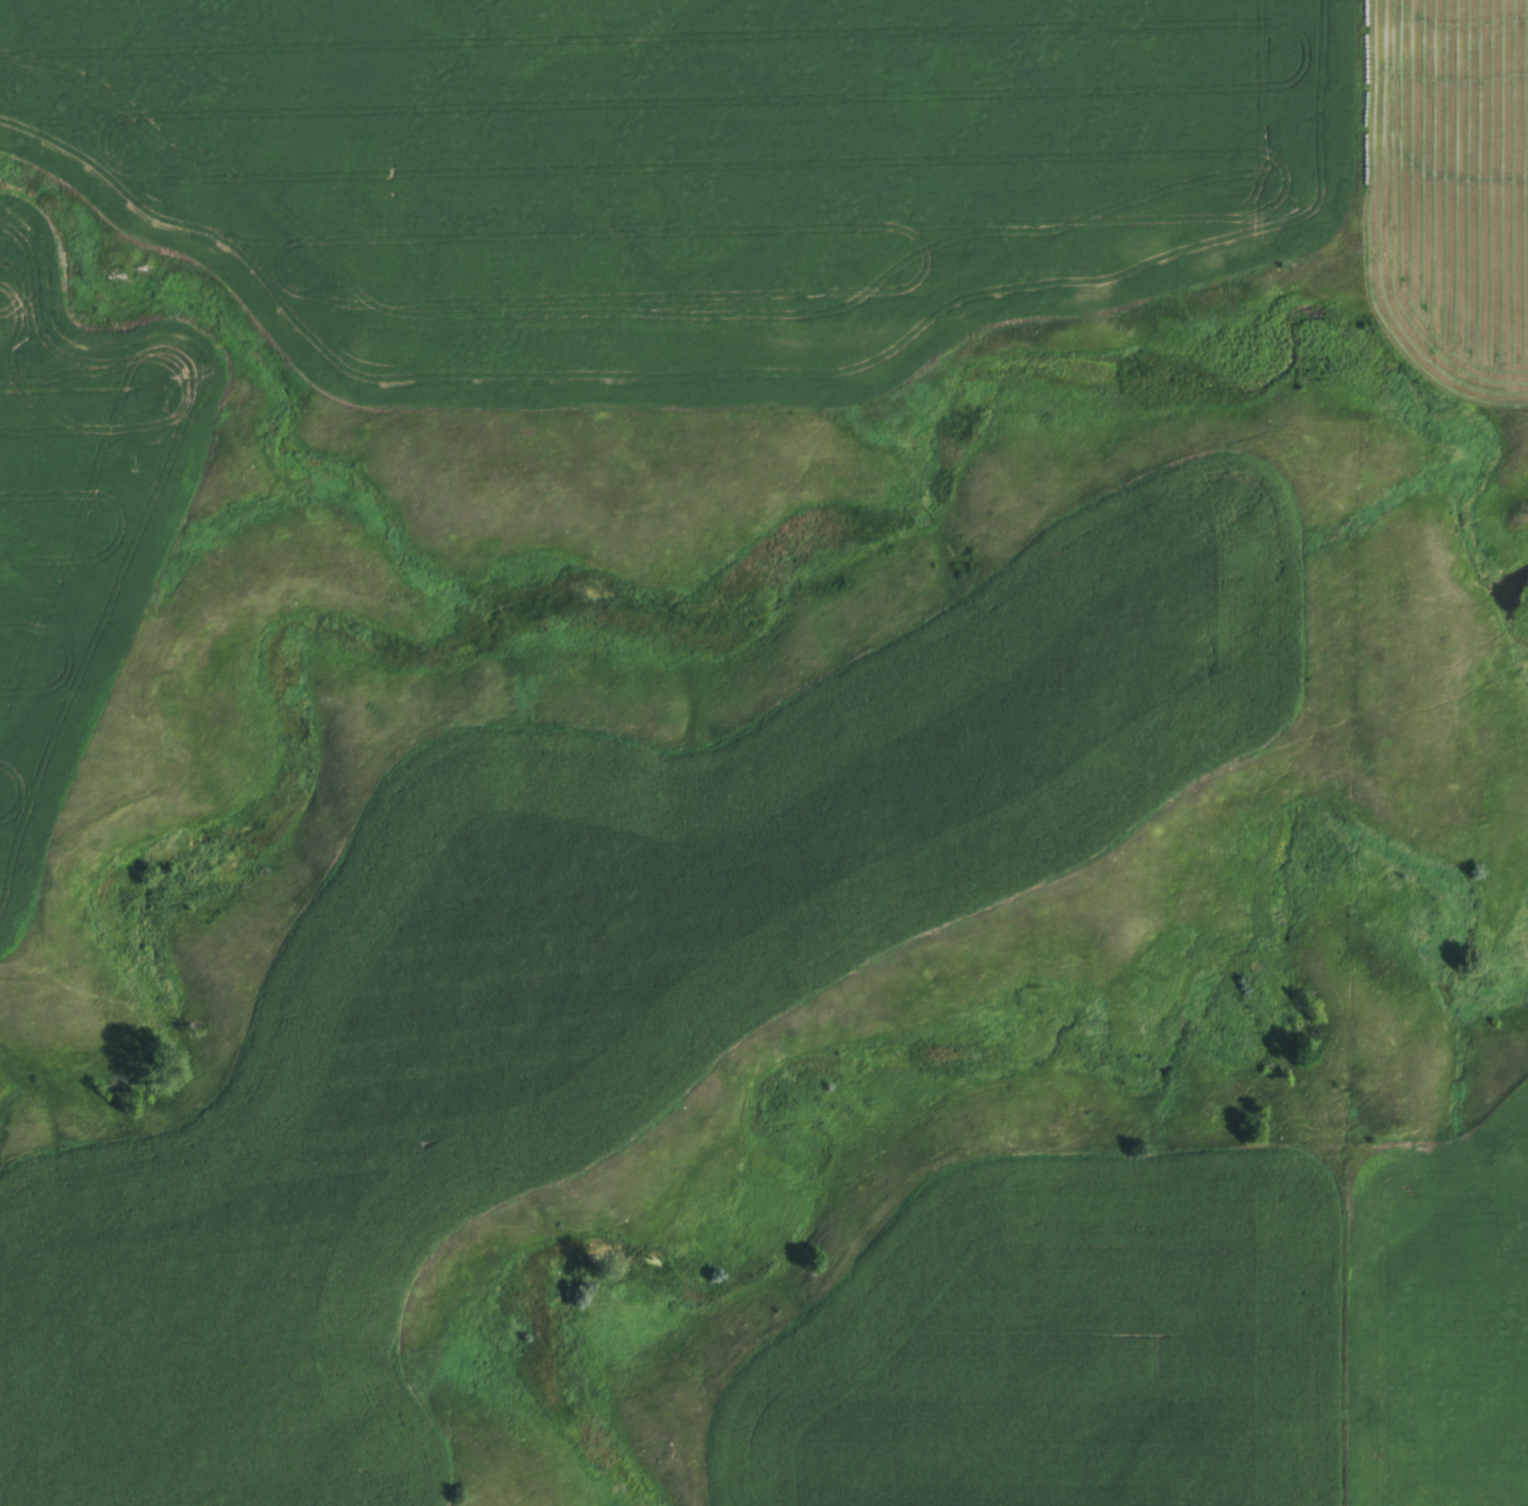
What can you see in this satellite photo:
river: (1527, 546)

